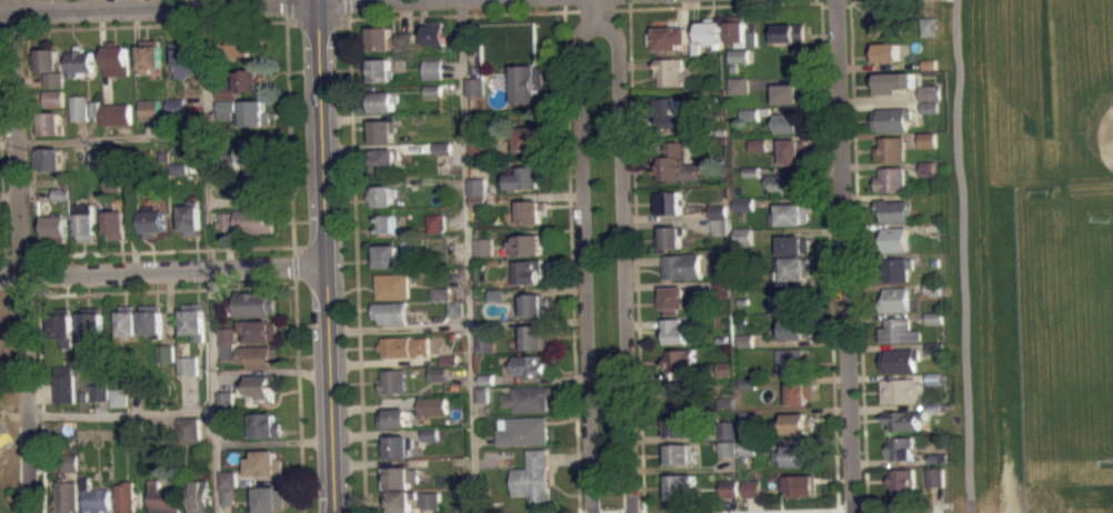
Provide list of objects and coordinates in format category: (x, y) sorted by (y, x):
road: (628, 0)
road: (868, 0)
road: (563, 1)
road: (816, 1)
road: (158, 3)
road: (822, 3)
road: (628, 4)
road: (722, 4)
road: (596, 6)
road: (835, 6)
road: (848, 6)
road: (347, 9)
road: (594, 9)
road: (284, 10)
road: (571, 10)
road: (24, 13)
road: (458, 14)
road: (314, 19)
road: (253, 21)
building: (889, 21)
building: (930, 26)
building: (738, 30)
building: (435, 32)
building: (712, 32)
building: (791, 32)
building: (379, 37)
building: (670, 37)
building: (753, 38)
building: (404, 40)
building: (241, 43)
building: (696, 46)
building: (405, 49)
building: (888, 51)
building: (149, 56)
building: (741, 56)
building: (46, 57)
building: (182, 57)
building: (114, 58)
building: (77, 62)
building: (789, 62)
building: (741, 63)
building: (931, 63)
building: (380, 68)
building: (432, 68)
building: (672, 71)
building: (51, 79)
building: (247, 79)
building: (894, 81)
building: (529, 82)
building: (740, 84)
road: (27, 85)
building: (475, 85)
building: (224, 90)
building: (433, 90)
building: (791, 92)
building: (932, 92)
building: (740, 93)
building: (475, 94)
building: (50, 98)
building: (432, 99)
building: (384, 100)
building: (52, 105)
building: (173, 105)
building: (76, 107)
building: (932, 107)
building: (91, 108)
building: (223, 108)
building: (148, 109)
building: (679, 111)
building: (253, 112)
building: (113, 113)
building: (750, 113)
building: (173, 114)
building: (931, 115)
building: (893, 119)
park: (1093, 121)
building: (48, 122)
building: (751, 122)
building: (789, 122)
building: (381, 131)
road: (101, 138)
building: (529, 140)
building: (929, 140)
building: (759, 144)
building: (442, 148)
building: (892, 148)
building: (929, 148)
building: (253, 150)
building: (793, 150)
building: (479, 151)
building: (443, 157)
building: (47, 158)
building: (91, 159)
building: (385, 161)
building: (676, 163)
building: (174, 168)
building: (932, 168)
building: (752, 171)
building: (174, 177)
building: (523, 177)
building: (930, 177)
building: (892, 179)
building: (410, 181)
building: (110, 182)
building: (783, 182)
building: (252, 183)
building: (478, 185)
building: (110, 191)
building: (58, 193)
building: (383, 194)
road: (29, 198)
building: (478, 200)
building: (670, 202)
building: (743, 203)
building: (382, 204)
building: (532, 210)
building: (894, 210)
building: (719, 211)
building: (743, 212)
building: (792, 213)
building: (189, 218)
building: (113, 220)
building: (151, 220)
building: (247, 220)
building: (81, 221)
building: (435, 222)
building: (385, 223)
building: (720, 225)
building: (52, 228)
building: (931, 228)
building: (742, 235)
building: (670, 238)
building: (894, 239)
building: (525, 244)
building: (794, 244)
building: (484, 245)
road: (164, 250)
road: (635, 250)
building: (385, 254)
building: (484, 254)
road: (468, 255)
road: (845, 255)
road: (859, 255)
road: (964, 255)
road: (14, 256)
road: (207, 256)
road: (323, 256)
road: (583, 259)
road: (624, 259)
road: (830, 259)
road: (30, 260)
building: (935, 262)
road: (292, 265)
road: (354, 265)
building: (682, 265)
road: (161, 268)
building: (795, 268)
building: (896, 268)
building: (528, 272)
building: (744, 281)
building: (389, 285)
building: (933, 288)
building: (721, 289)
road: (162, 290)
building: (441, 292)
road: (571, 294)
building: (674, 299)
building: (895, 299)
building: (441, 301)
building: (791, 302)
building: (253, 303)
building: (533, 304)
building: (723, 305)
building: (220, 308)
building: (455, 308)
building: (391, 312)
building: (220, 316)
building: (935, 316)
building: (124, 320)
building: (149, 320)
building: (191, 320)
building: (88, 321)
building: (57, 324)
building: (794, 329)
building: (259, 330)
building: (676, 330)
building: (900, 330)
building: (225, 333)
building: (535, 336)
building: (723, 339)
building: (746, 340)
building: (485, 343)
building: (403, 345)
building: (936, 348)
building: (162, 352)
building: (485, 352)
building: (251, 354)
building: (183, 359)
building: (681, 359)
building: (900, 359)
building: (791, 360)
building: (163, 361)
building: (531, 363)
building: (726, 369)
building: (184, 373)
building: (438, 373)
building: (935, 378)
building: (487, 379)
building: (393, 380)
building: (438, 382)
building: (59, 383)
building: (749, 383)
building: (261, 386)
building: (901, 390)
building: (94, 391)
building: (682, 391)
building: (799, 392)
building: (482, 393)
building: (78, 395)
road: (297, 395)
building: (114, 396)
building: (529, 398)
building: (94, 400)
building: (222, 400)
building: (723, 402)
road: (36, 404)
building: (433, 404)
building: (935, 406)
road: (116, 413)
building: (433, 413)
building: (393, 418)
building: (750, 419)
building: (905, 420)
building: (221, 422)
building: (679, 423)
building: (799, 423)
building: (132, 424)
building: (264, 424)
building: (750, 428)
building: (187, 429)
building: (726, 429)
building: (524, 430)
building: (221, 432)
park: (3, 434)
building: (430, 434)
building: (728, 439)
building: (430, 442)
building: (397, 445)
building: (748, 445)
building: (728, 449)
building: (901, 449)
building: (680, 453)
building: (795, 454)
building: (749, 455)
building: (728, 456)
building: (937, 457)
building: (66, 461)
building: (263, 462)
building: (794, 463)
building: (64, 471)
building: (399, 476)
building: (935, 476)
building: (534, 477)
building: (225, 479)
building: (902, 481)
building: (800, 484)
building: (680, 486)
building: (731, 487)
building: (751, 487)
building: (62, 495)
building: (197, 495)
building: (224, 495)
building: (92, 496)
building: (121, 496)
building: (730, 496)
building: (752, 496)
building: (399, 497)
building: (267, 499)
building: (162, 500)
building: (430, 500)
road: (794, 511)
road: (579, 512)

